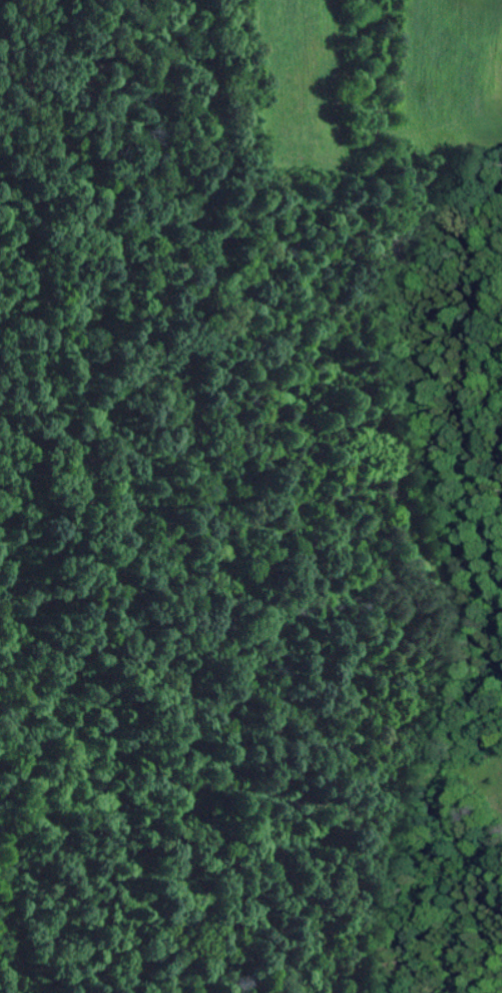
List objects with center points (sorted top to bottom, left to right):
road: (342, 349)

